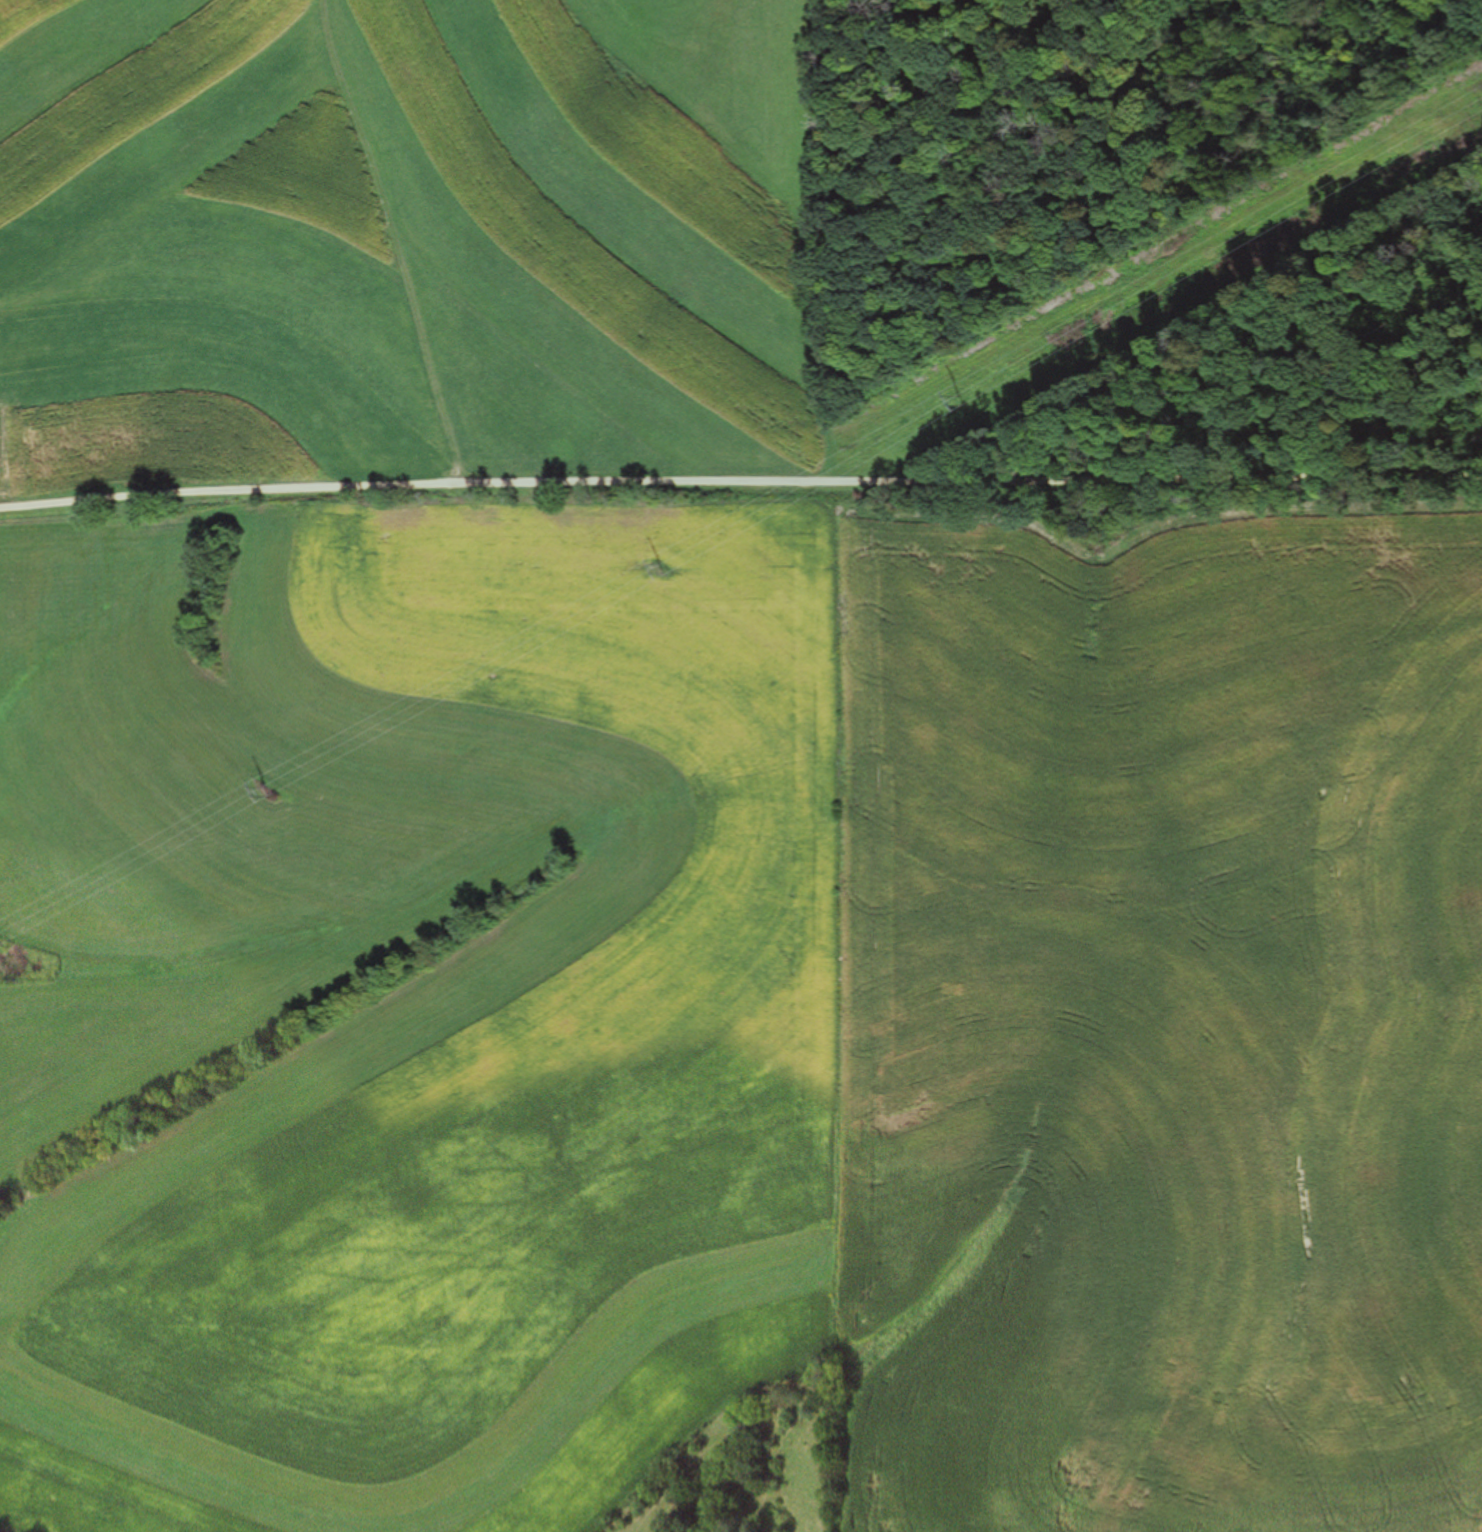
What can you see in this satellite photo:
power tower: (958, 399)
road: (739, 486)
power tower: (657, 569)
power tower: (265, 790)

